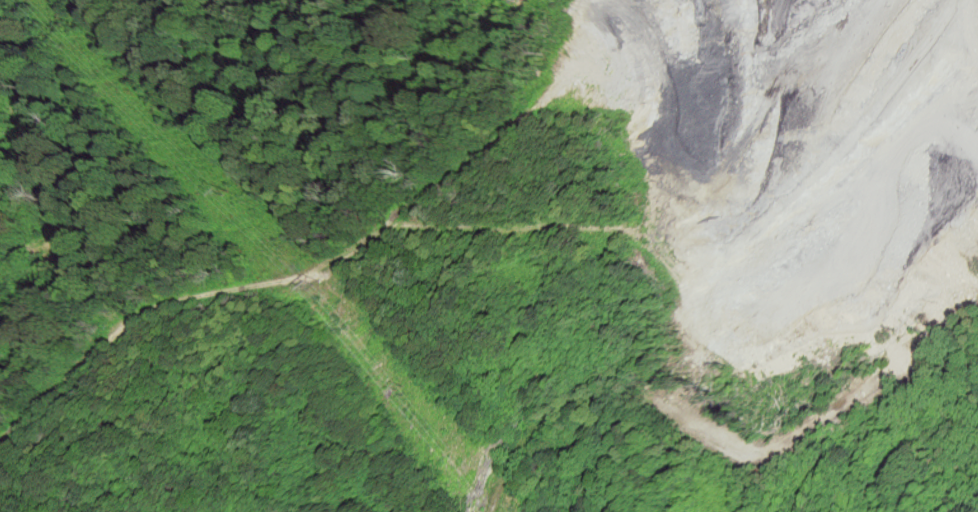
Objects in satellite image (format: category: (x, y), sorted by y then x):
quarry: (787, 187)

